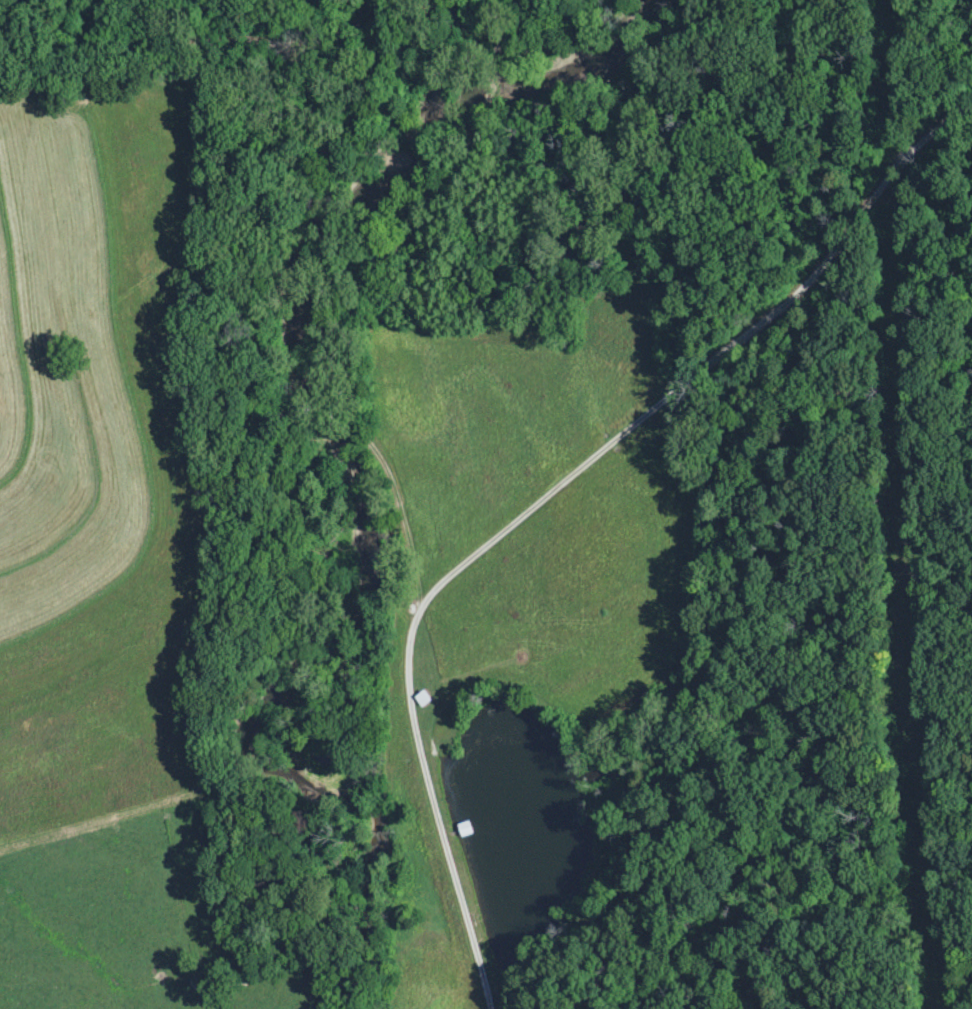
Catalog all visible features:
road: (549, 498)
building: (420, 699)
building: (463, 830)

